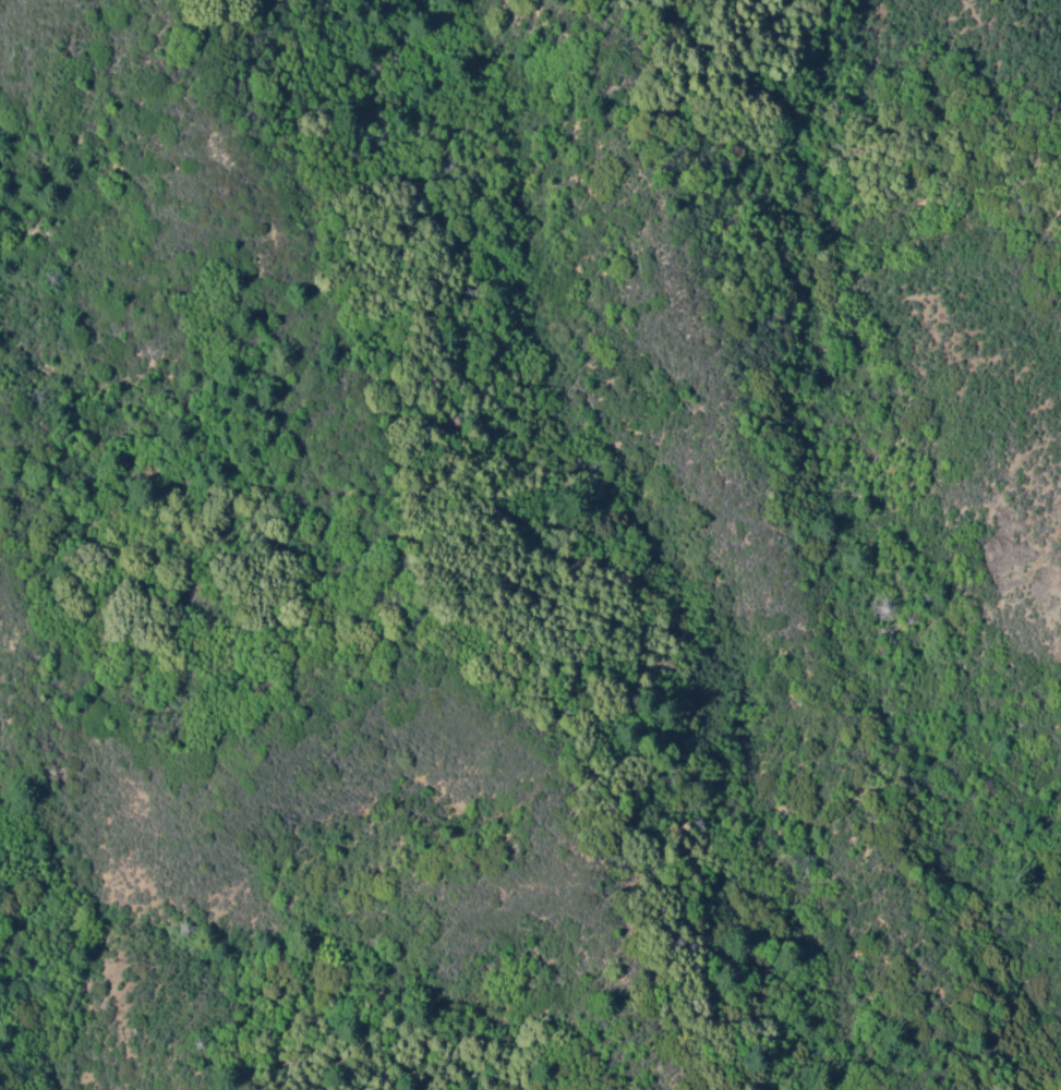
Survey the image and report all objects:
road: (812, 244)

